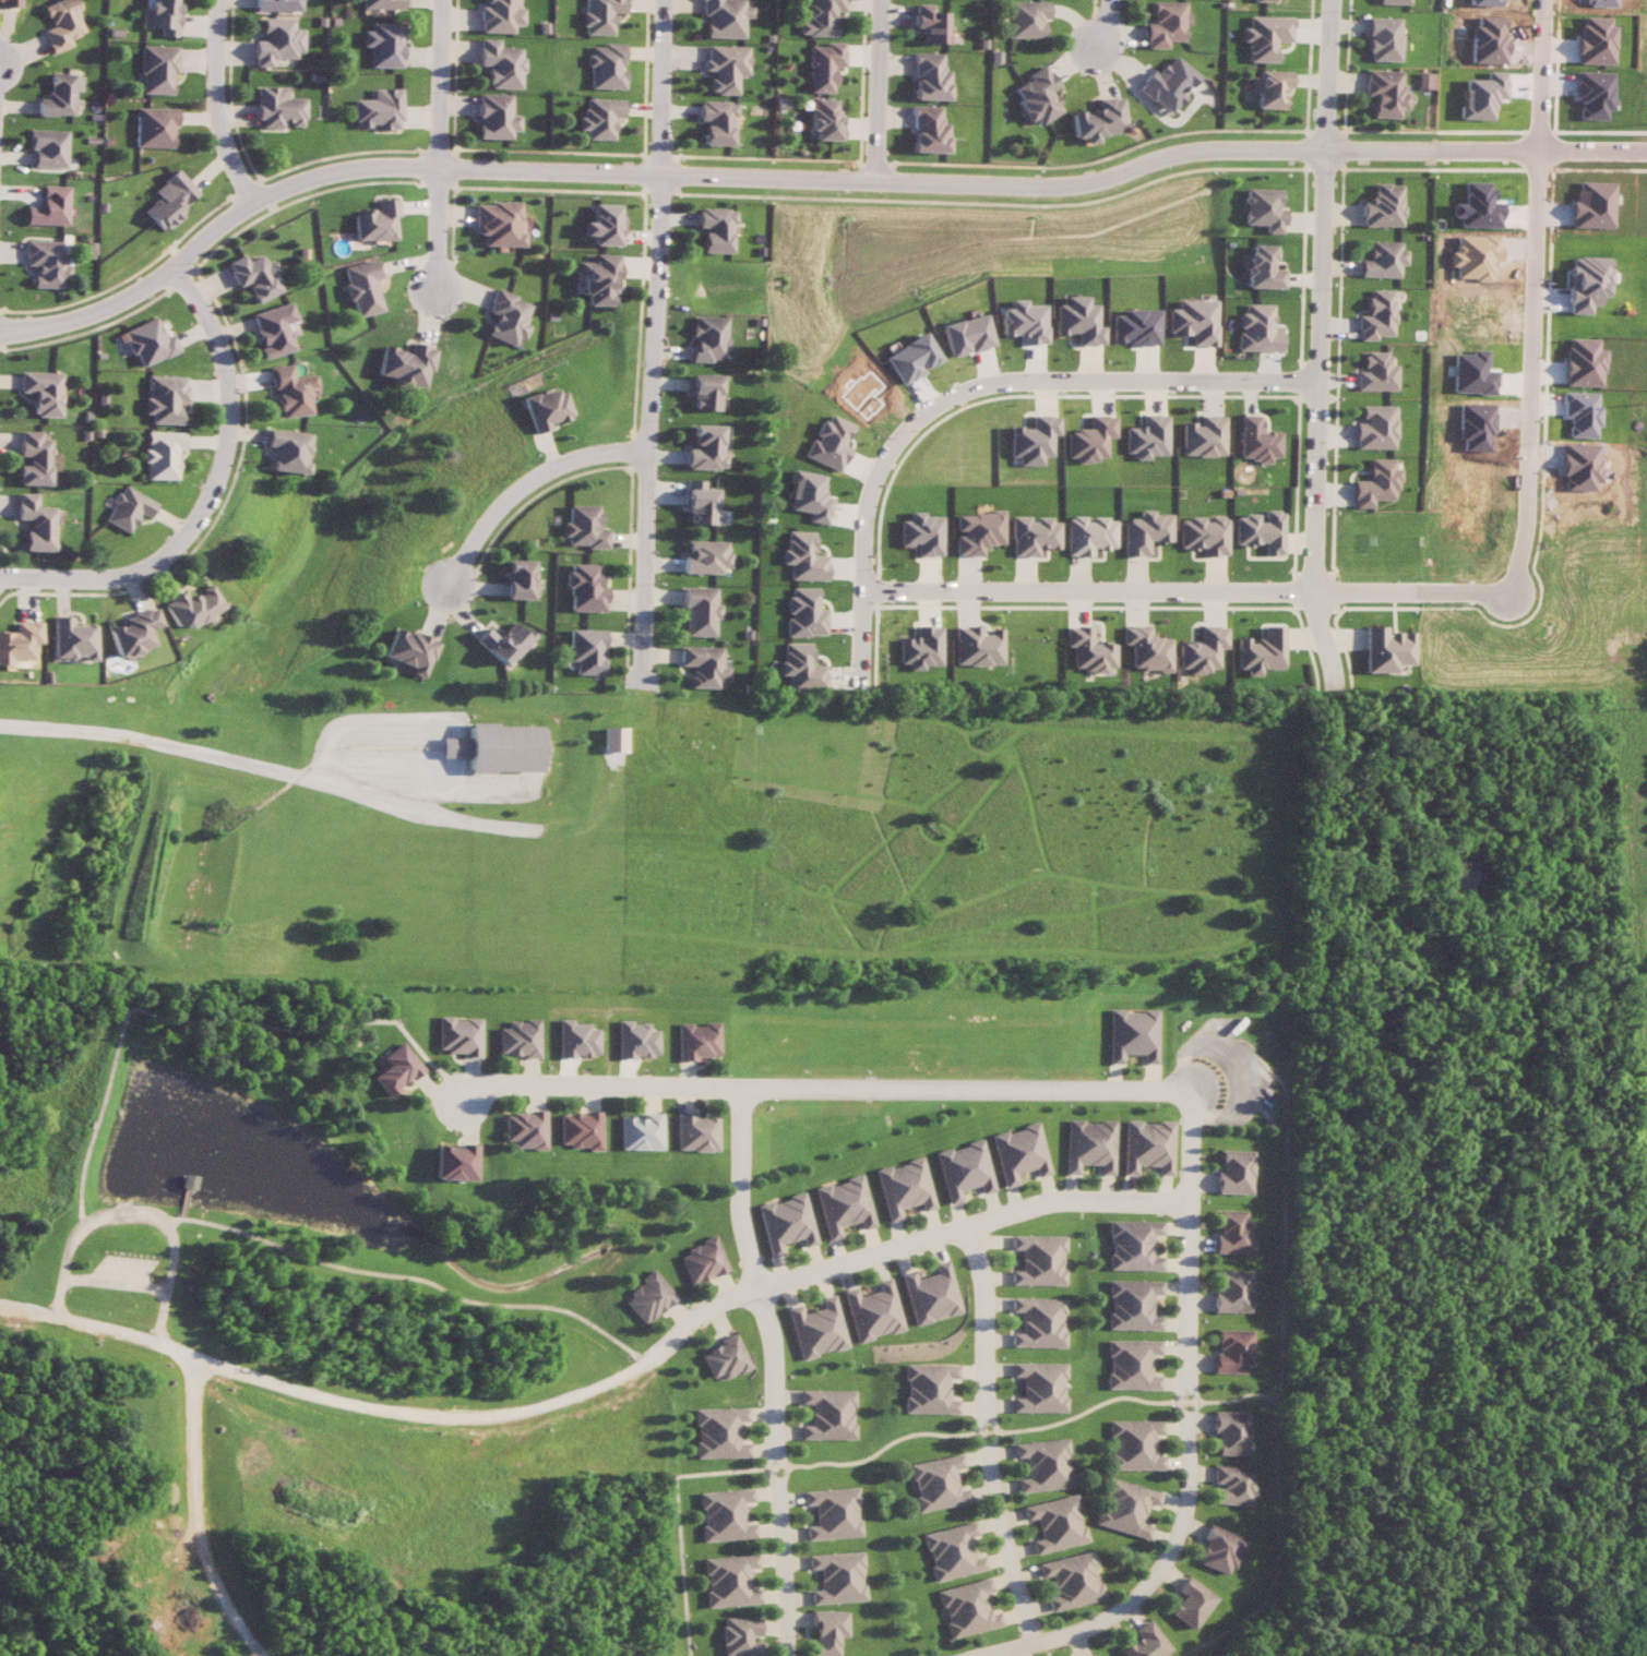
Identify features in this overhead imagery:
building: (1262, 0)
building: (1392, 1)
building: (9, 3)
building: (278, 4)
building: (381, 4)
building: (599, 15)
building: (162, 16)
building: (499, 16)
building: (724, 17)
building: (820, 17)
building: (1026, 19)
building: (61, 23)
building: (930, 23)
building: (1163, 24)
road: (1106, 27)
building: (1264, 36)
building: (1383, 38)
building: (277, 40)
building: (382, 44)
building: (499, 63)
building: (605, 65)
building: (821, 65)
building: (724, 68)
building: (158, 69)
building: (929, 76)
building: (1425, 80)
building: (1166, 84)
building: (1270, 88)
road: (876, 89)
building: (1385, 92)
building: (1592, 94)
building: (59, 95)
building: (1036, 95)
road: (218, 106)
building: (278, 108)
building: (378, 109)
building: (493, 117)
building: (598, 117)
building: (823, 118)
building: (1096, 119)
building: (715, 122)
building: (155, 127)
building: (927, 130)
building: (48, 147)
road: (440, 147)
road: (805, 178)
building: (170, 199)
building: (1383, 206)
building: (49, 207)
building: (1264, 208)
building: (372, 221)
building: (494, 224)
building: (599, 225)
building: (712, 229)
building: (1383, 259)
building: (46, 262)
building: (1263, 268)
building: (251, 275)
building: (596, 279)
building: (358, 287)
road: (1533, 295)
building: (1376, 315)
building: (503, 317)
building: (1077, 321)
building: (1192, 321)
building: (1023, 322)
building: (1135, 327)
building: (1256, 328)
building: (270, 329)
building: (966, 335)
building: (707, 338)
road: (1317, 340)
building: (146, 341)
road: (653, 343)
building: (911, 358)
building: (404, 364)
road: (1096, 372)
building: (1375, 372)
building: (286, 391)
building: (41, 392)
building: (705, 392)
building: (164, 398)
building: (546, 408)
building: (1375, 428)
building: (1146, 436)
building: (1203, 436)
building: (1089, 439)
building: (1033, 440)
building: (1255, 441)
building: (828, 443)
building: (706, 448)
building: (284, 451)
building: (160, 454)
building: (33, 458)
road: (525, 483)
building: (1375, 483)
road: (211, 494)
building: (809, 495)
building: (701, 503)
building: (127, 508)
building: (34, 523)
building: (584, 527)
building: (1144, 531)
building: (1258, 531)
building: (976, 532)
building: (921, 533)
building: (1031, 535)
building: (1087, 535)
building: (1203, 535)
road: (862, 549)
building: (706, 556)
building: (803, 556)
building: (521, 578)
building: (585, 588)
road: (1184, 592)
building: (188, 607)
building: (700, 611)
building: (804, 613)
building: (129, 633)
building: (68, 639)
building: (17, 640)
building: (506, 641)
building: (976, 646)
building: (920, 648)
building: (1145, 648)
building: (1385, 649)
building: (413, 650)
building: (587, 650)
building: (1202, 650)
building: (1088, 651)
building: (1258, 651)
building: (704, 665)
building: (800, 667)
building: (614, 739)
building: (499, 747)
road: (266, 767)
building: (1133, 1034)
building: (460, 1035)
building: (520, 1037)
building: (577, 1039)
building: (636, 1040)
building: (697, 1040)
building: (397, 1069)
road: (819, 1087)
building: (524, 1129)
building: (577, 1130)
building: (637, 1131)
building: (692, 1132)
building: (1090, 1145)
building: (1149, 1145)
building: (1019, 1153)
building: (456, 1162)
building: (964, 1169)
building: (1238, 1172)
building: (904, 1187)
building: (843, 1205)
building: (786, 1223)
building: (1236, 1232)
building: (1135, 1245)
building: (1041, 1259)
building: (702, 1260)
building: (1234, 1292)
building: (933, 1294)
building: (649, 1297)
building: (1134, 1304)
building: (875, 1311)
building: (1040, 1322)
building: (821, 1329)
building: (1234, 1351)
building: (728, 1358)
building: (1132, 1364)
road: (777, 1368)
road: (607, 1382)
building: (1039, 1387)
building: (929, 1388)
building: (831, 1414)
building: (720, 1432)
building: (1232, 1432)
road: (1190, 1433)
road: (986, 1436)
building: (1134, 1444)
building: (1043, 1464)
building: (936, 1483)
building: (1232, 1485)
building: (1123, 1507)
road: (203, 1513)
building: (834, 1513)
building: (727, 1514)
building: (1055, 1523)
building: (1215, 1549)
building: (952, 1551)
building: (839, 1577)
building: (1070, 1580)
building: (731, 1581)
building: (1184, 1603)
building: (967, 1608)
building: (830, 1631)
building: (742, 1635)
building: (1138, 1642)
building: (1084, 1655)

